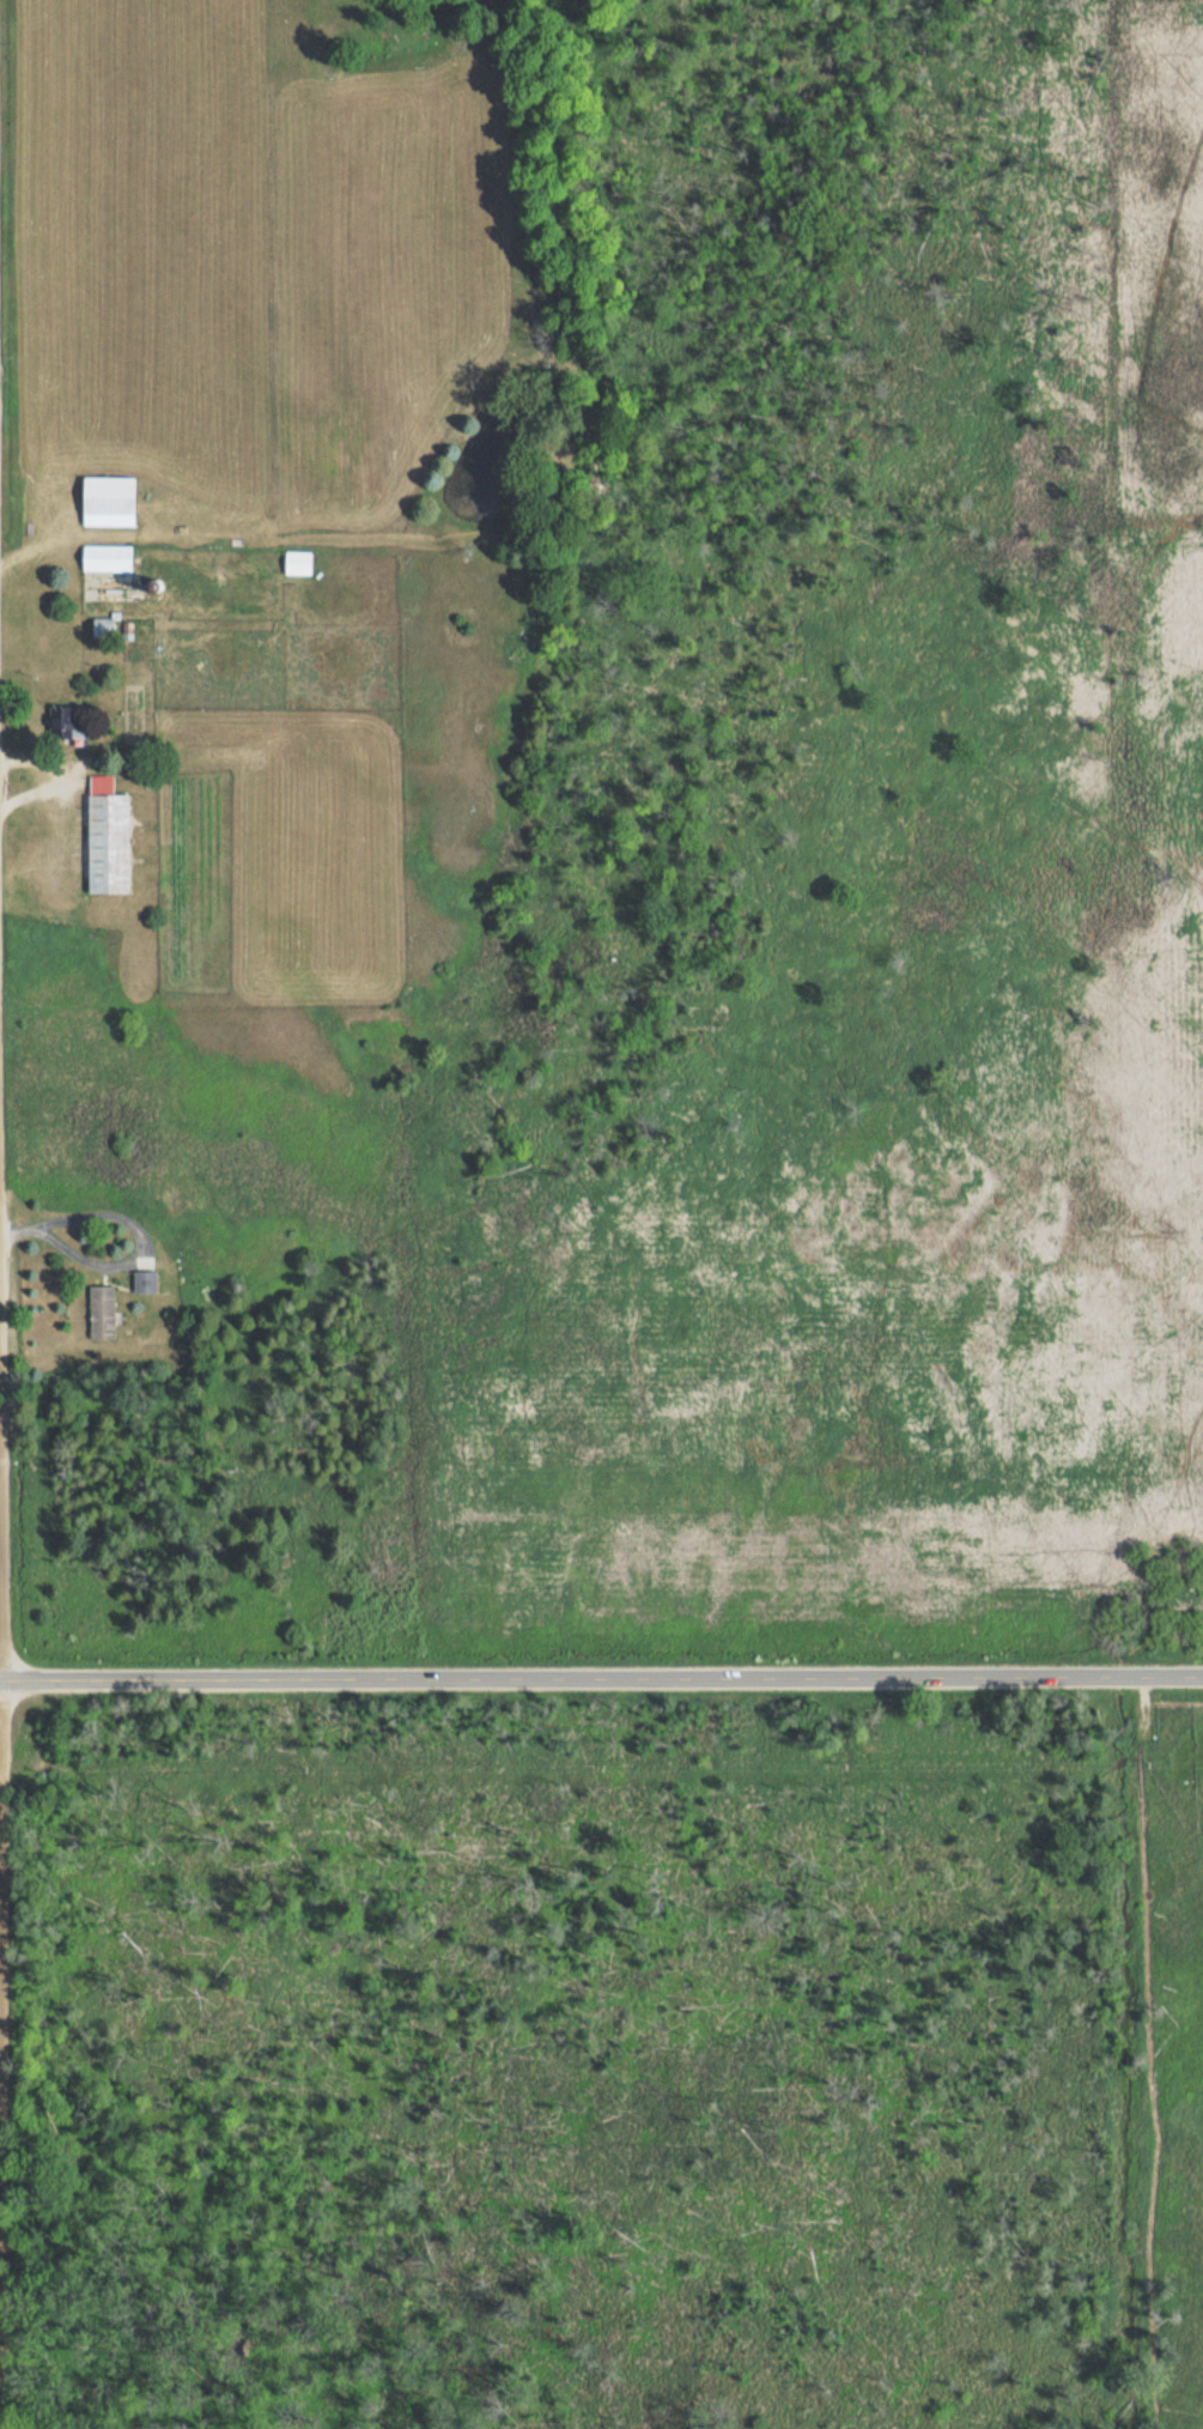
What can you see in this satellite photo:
building: (108, 501)
building: (107, 557)
building: (297, 562)
building: (62, 719)
building: (107, 836)
building: (145, 1282)
building: (102, 1312)
road: (601, 1678)
road: (0, 1965)
road: (2, 2126)

